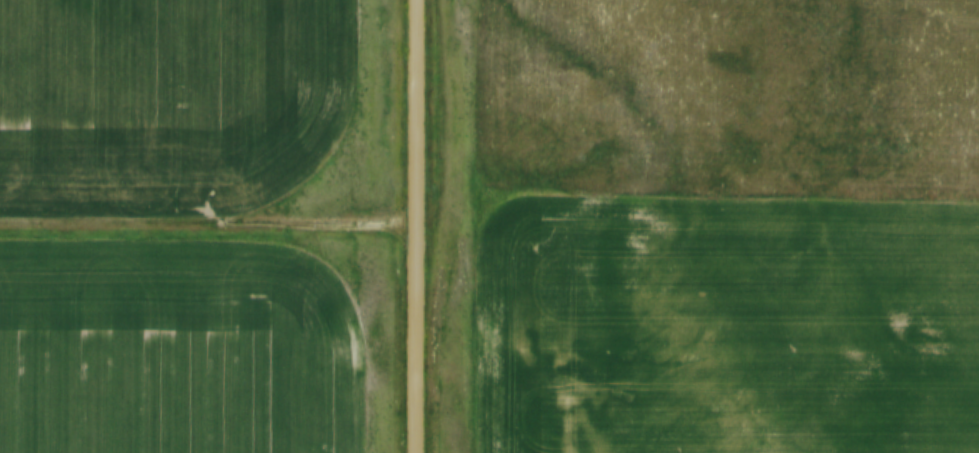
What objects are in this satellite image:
road: (205, 224)
road: (412, 226)

